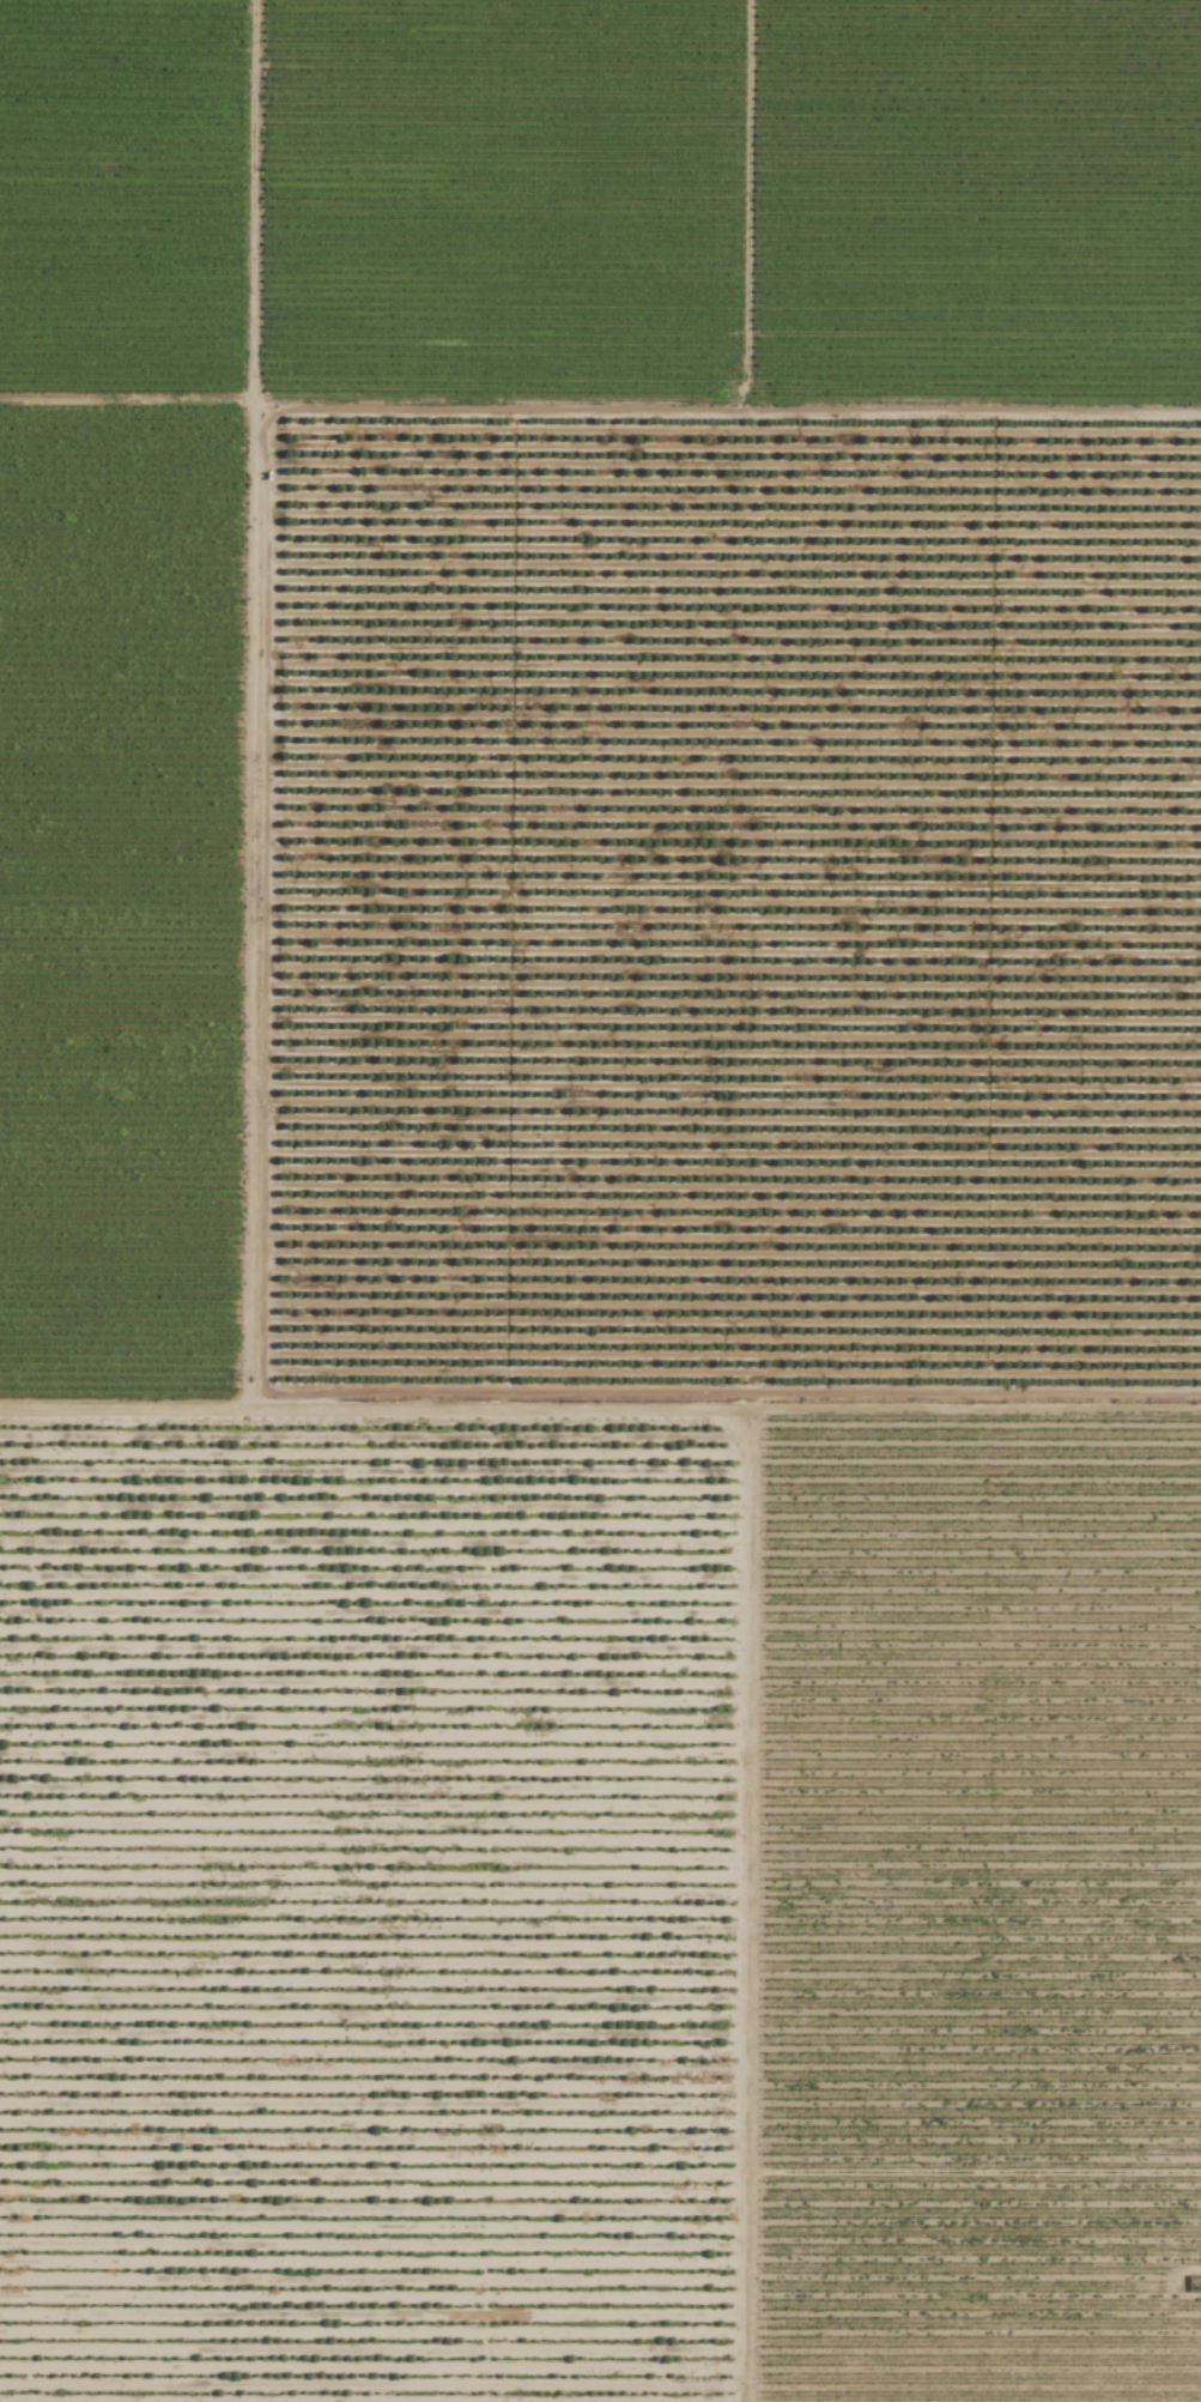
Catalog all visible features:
road: (600, 1409)

